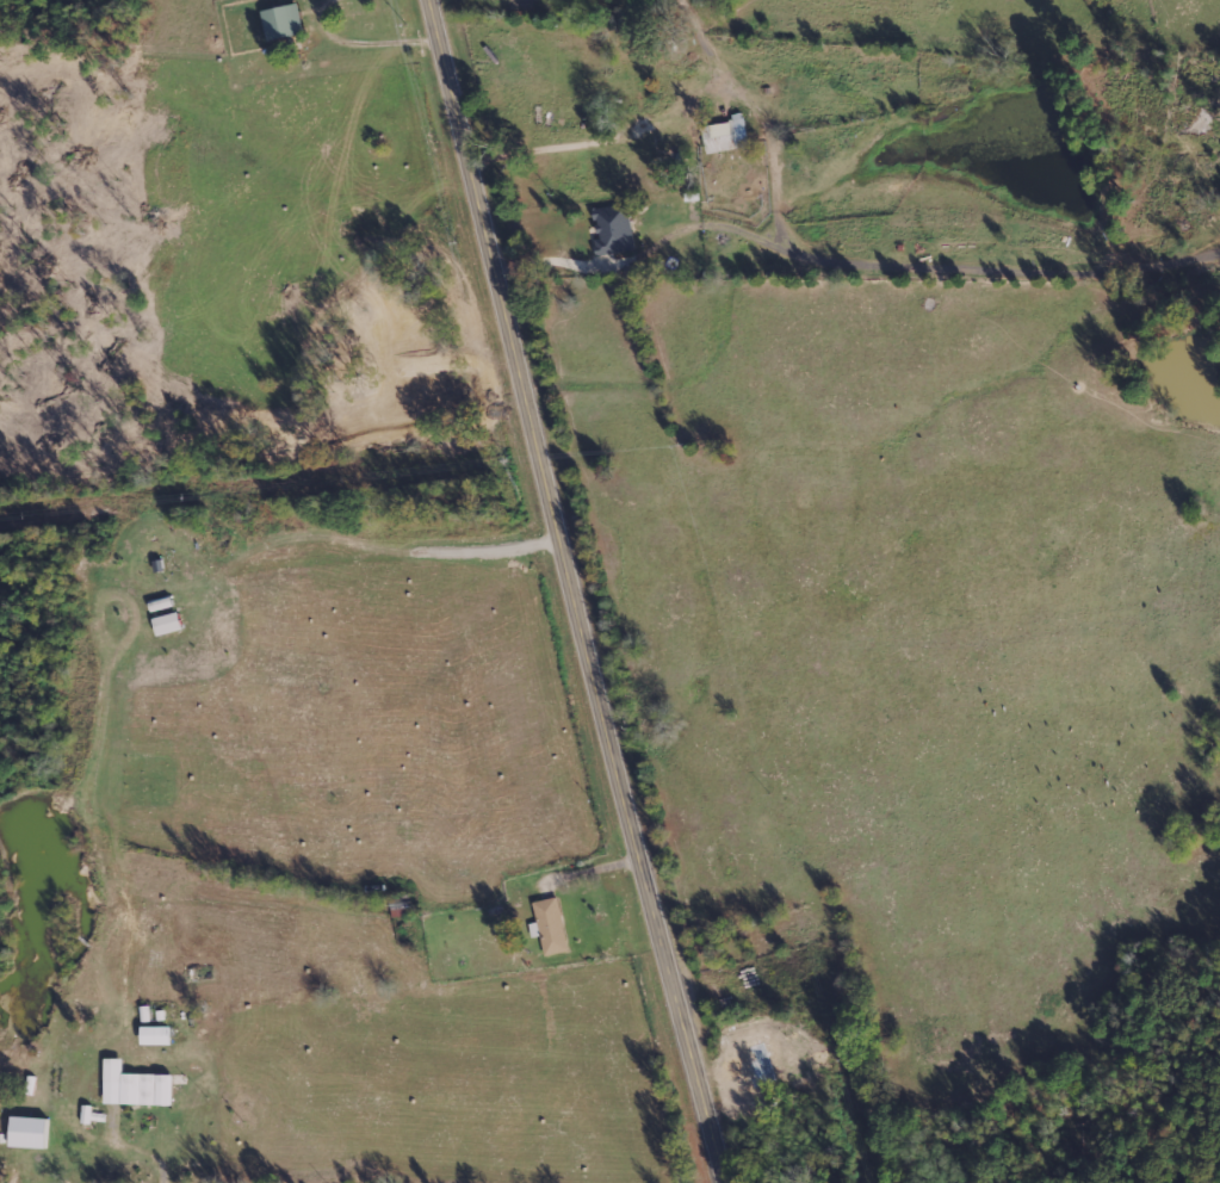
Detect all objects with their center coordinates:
building: (283, 21)
building: (726, 136)
building: (613, 233)
road: (570, 594)
building: (550, 927)
building: (156, 1035)
building: (135, 1086)
building: (29, 1132)

